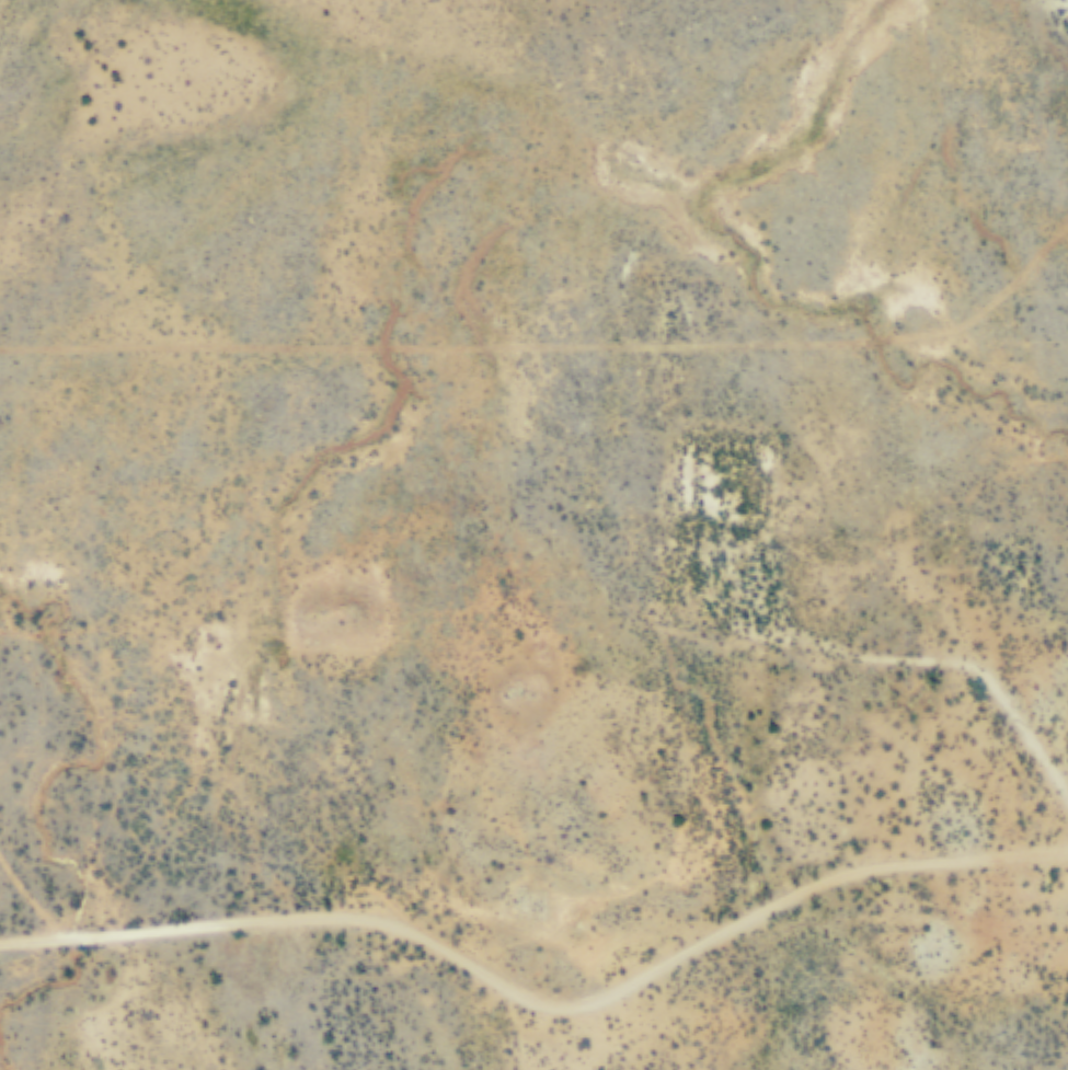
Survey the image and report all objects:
road: (540, 988)

